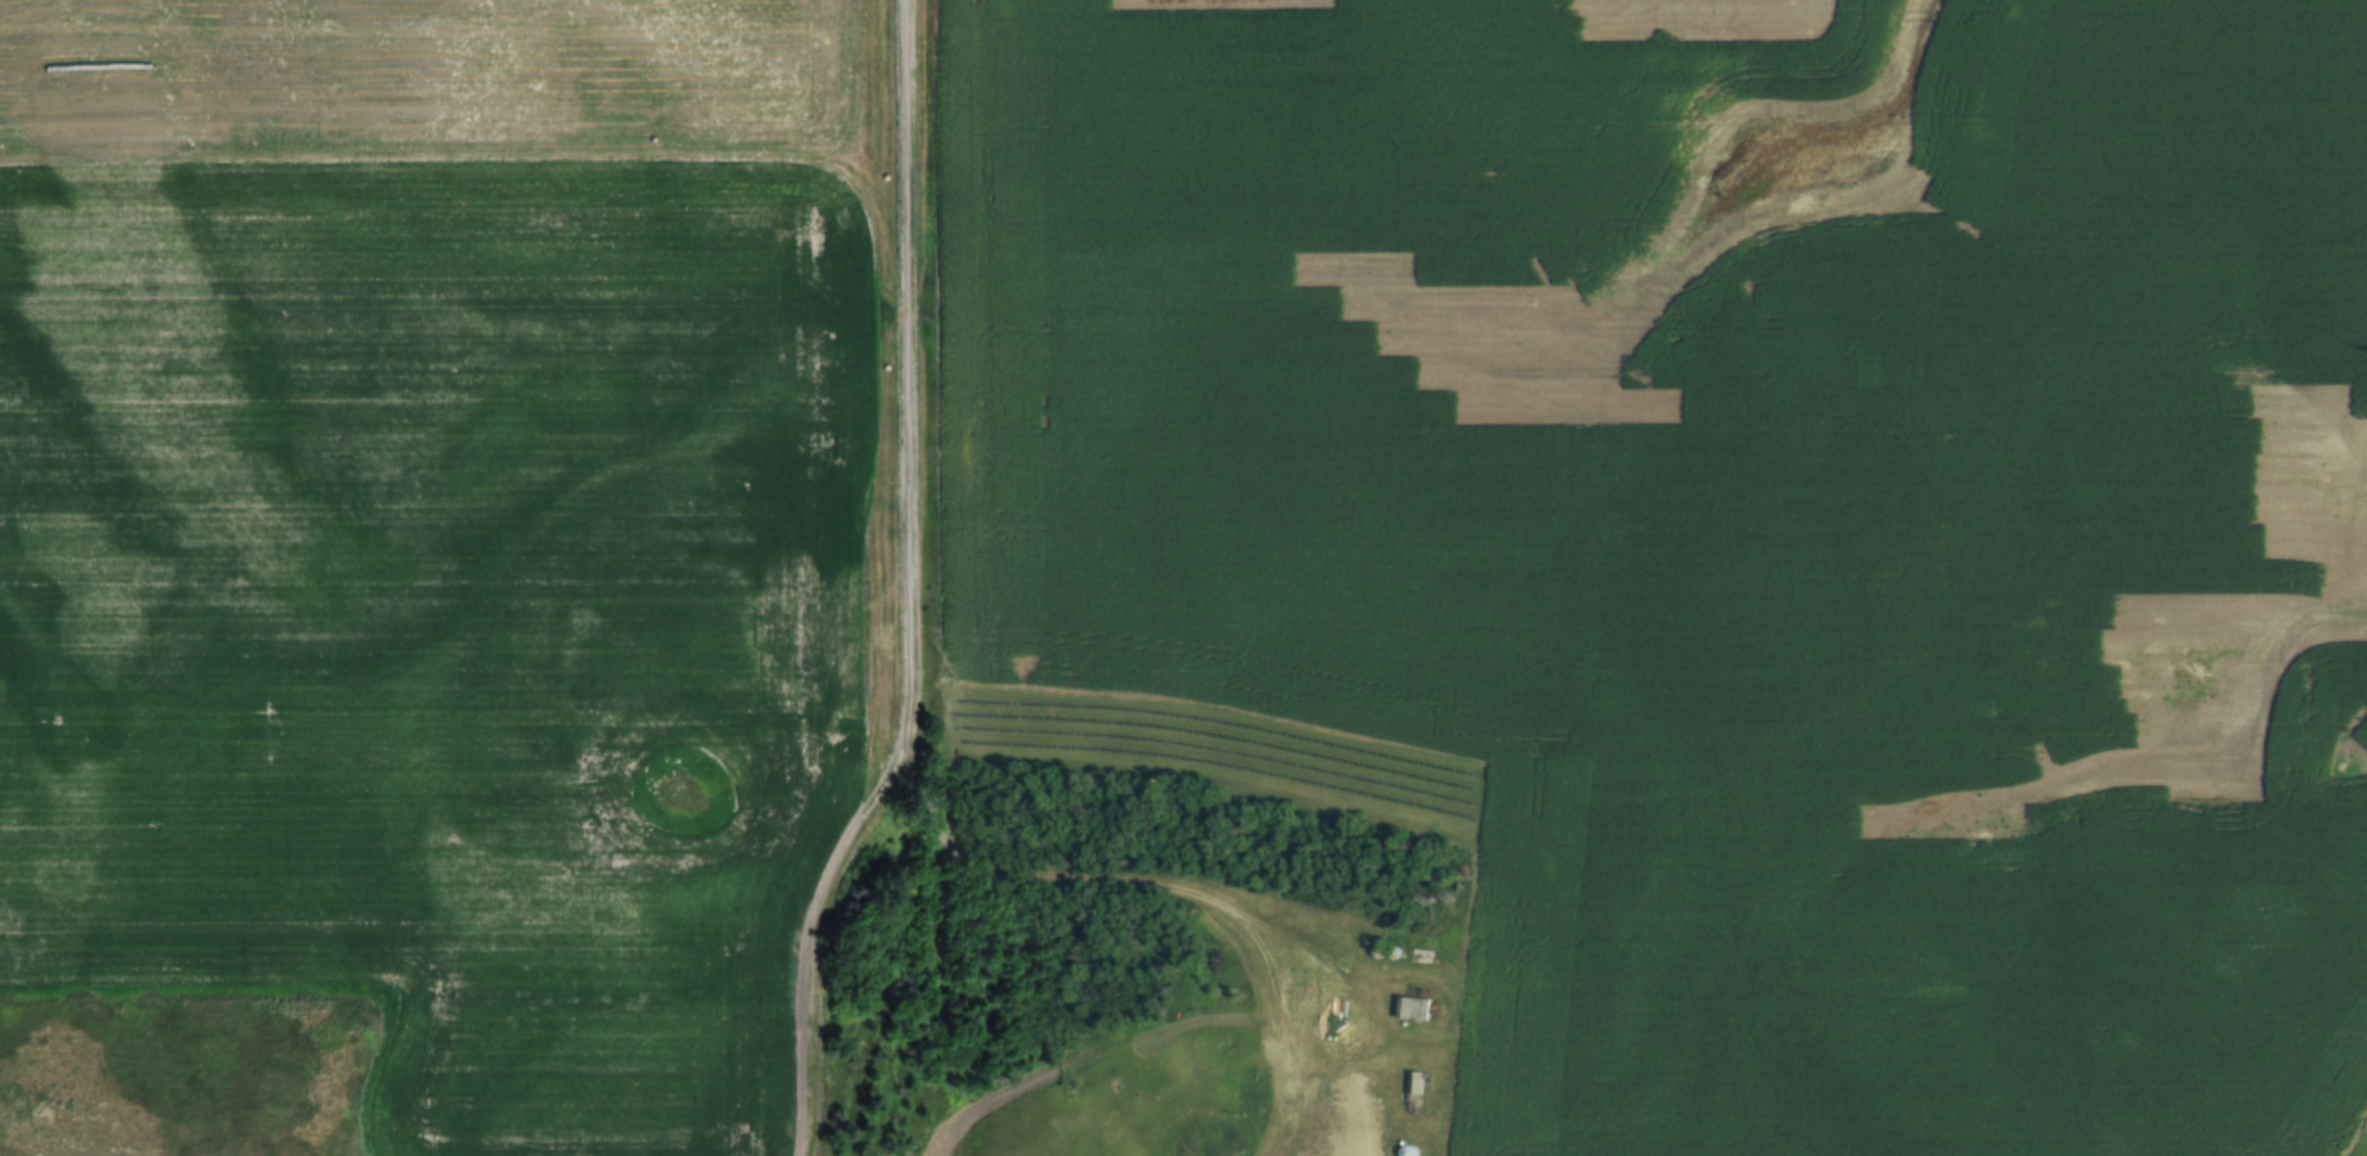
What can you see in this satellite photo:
road: (909, 589)
building: (1305, 993)
building: (1414, 1008)
building: (1335, 1025)
building: (1416, 1082)
building: (1411, 1151)

